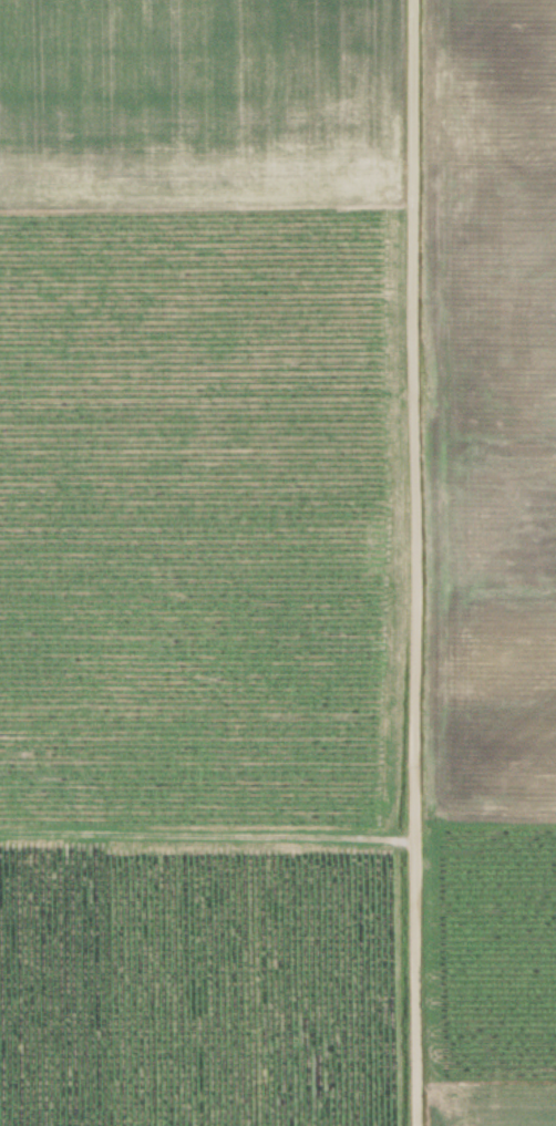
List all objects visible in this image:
road: (420, 562)

